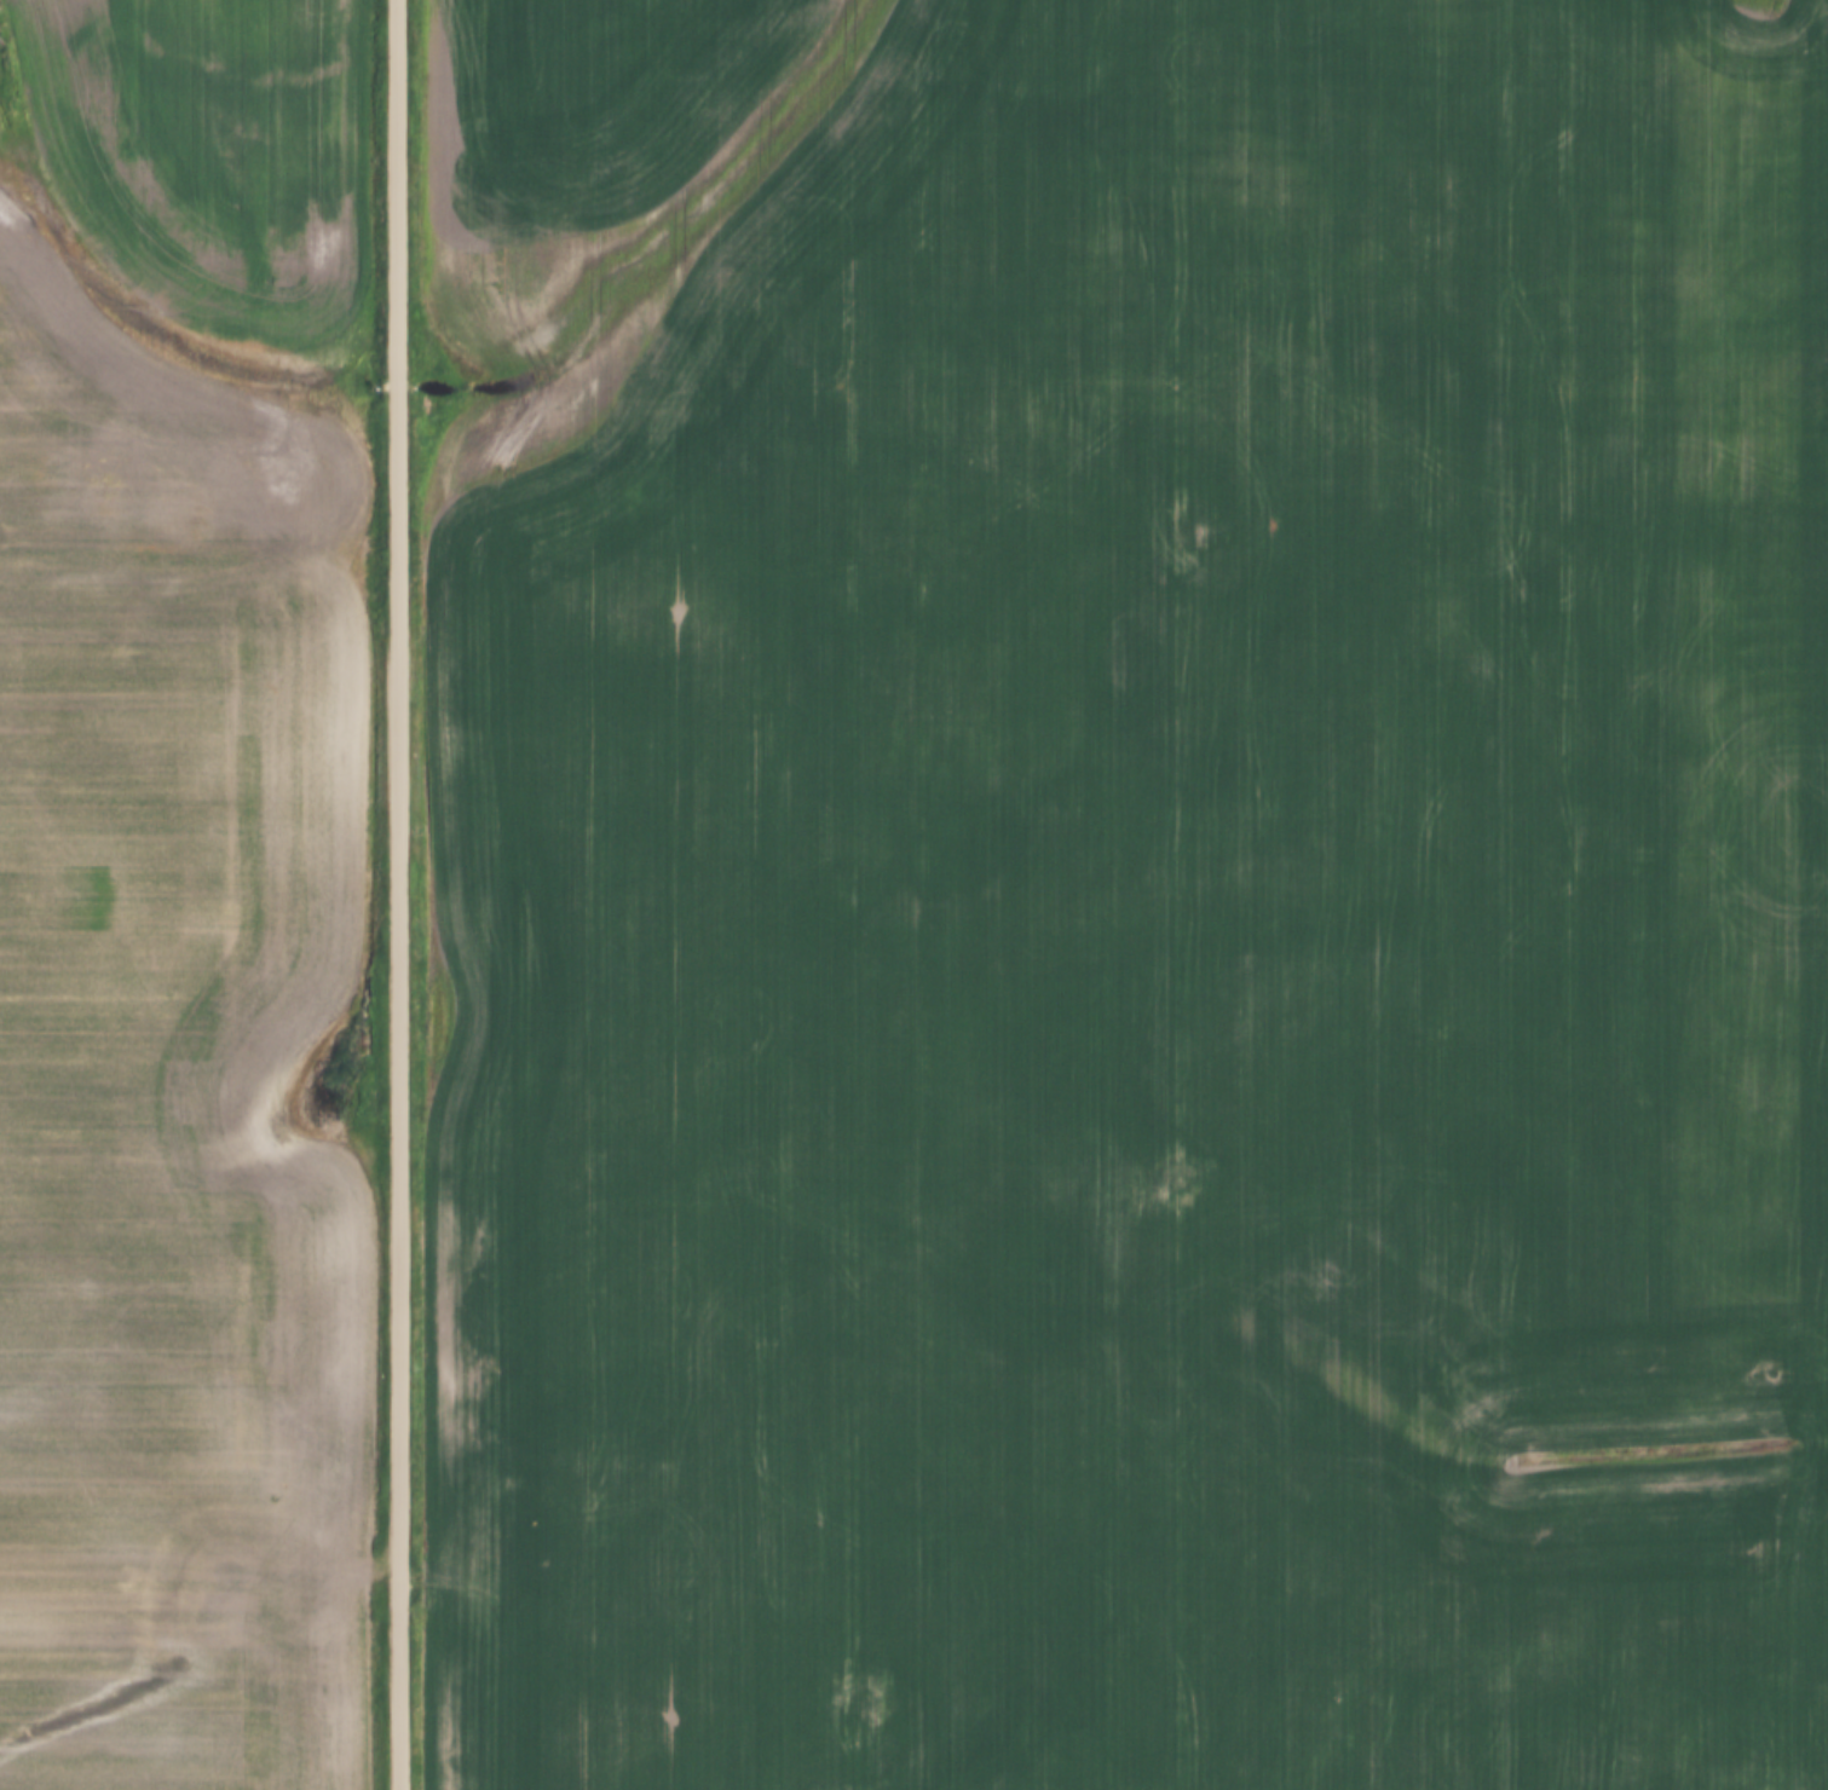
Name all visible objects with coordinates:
road: (399, 894)

